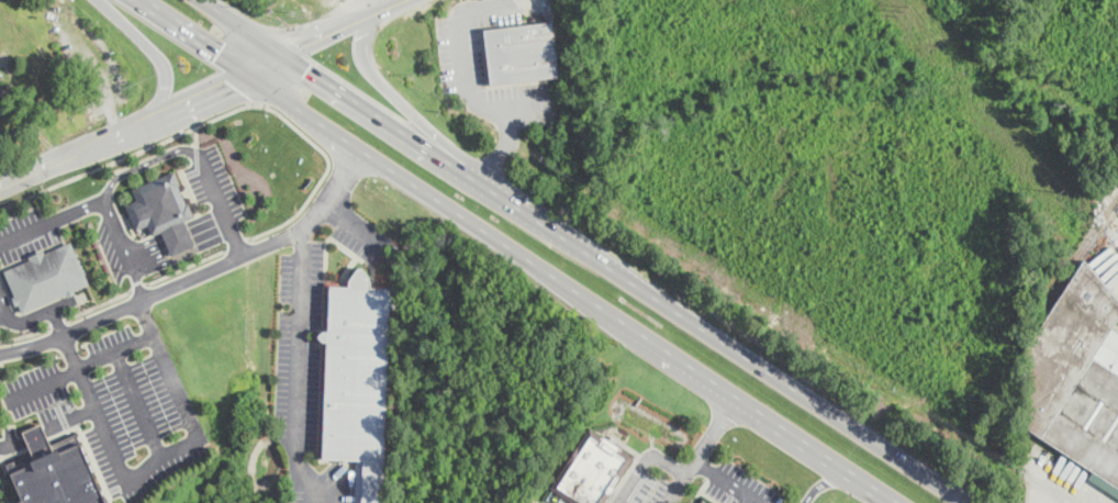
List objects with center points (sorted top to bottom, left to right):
road: (372, 5)
road: (385, 5)
power tower: (902, 9)
road: (238, 25)
road: (325, 31)
traffic signals: (299, 43)
road: (153, 49)
parking lot: (460, 52)
building: (517, 53)
traffic signals: (215, 54)
road: (262, 63)
road: (465, 68)
traffic signals: (306, 69)
traffic signals: (230, 82)
road: (392, 92)
road: (200, 94)
building: (4, 99)
road: (225, 112)
road: (197, 134)
road: (505, 147)
road: (77, 148)
road: (197, 163)
road: (105, 197)
road: (220, 201)
building: (161, 209)
parking lot: (165, 209)
road: (53, 220)
road: (358, 225)
road: (174, 227)
parking lot: (24, 233)
road: (177, 234)
parking lot: (367, 237)
road: (180, 242)
road: (236, 244)
railway: (1076, 250)
road: (183, 251)
road: (512, 251)
road: (186, 266)
road: (198, 273)
building: (41, 275)
road: (625, 276)
road: (139, 286)
road: (2, 303)
road: (99, 304)
parking lot: (36, 308)
road: (2, 309)
road: (40, 313)
road: (56, 322)
road: (24, 334)
road: (80, 367)
road: (297, 369)
building: (1075, 373)
parking lot: (303, 378)
building: (357, 380)
road: (137, 403)
parking lot: (119, 404)
road: (714, 427)
road: (48, 431)
parking lot: (9, 438)
road: (154, 458)
road: (644, 460)
road: (690, 466)
building: (589, 469)
building: (54, 470)
road: (729, 480)
road: (823, 483)
road: (674, 489)
road: (1066, 489)
road: (1050, 493)
building: (705, 501)
building: (715, 502)

